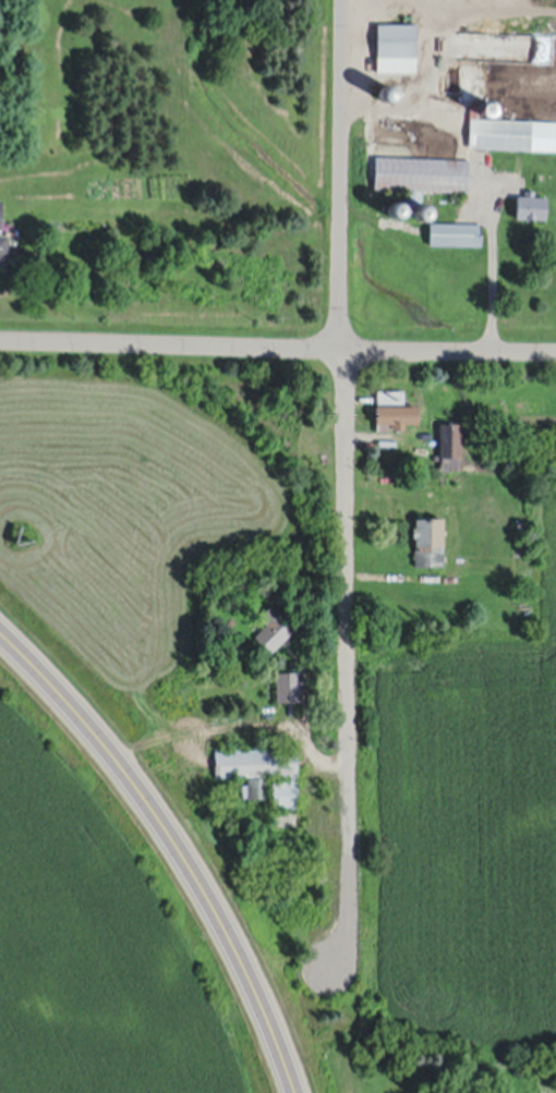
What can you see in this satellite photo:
building: (398, 42)
building: (388, 90)
building: (487, 106)
building: (482, 129)
building: (423, 170)
building: (531, 203)
building: (397, 206)
building: (1, 208)
building: (423, 209)
building: (455, 230)
building: (3, 245)
road: (277, 345)
building: (394, 406)
building: (450, 442)
road: (343, 483)
building: (430, 538)
building: (274, 623)
building: (290, 683)
building: (265, 766)
building: (256, 785)
road: (176, 843)

